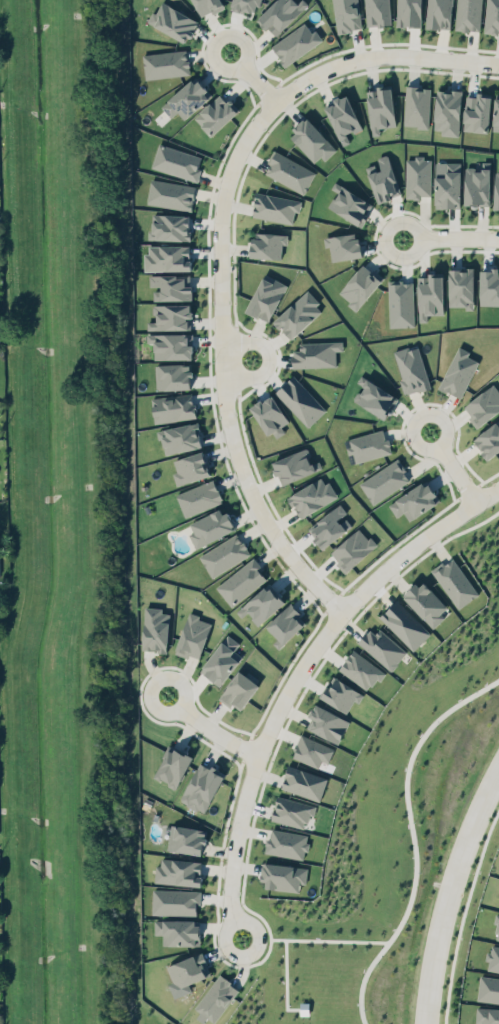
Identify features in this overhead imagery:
building: (242, 3)
building: (207, 4)
building: (374, 11)
building: (278, 12)
building: (408, 12)
building: (466, 13)
building: (439, 14)
building: (346, 15)
building: (491, 16)
building: (173, 21)
building: (295, 41)
road: (381, 59)
building: (165, 64)
road: (250, 74)
building: (185, 96)
building: (415, 104)
building: (380, 108)
building: (447, 111)
building: (477, 112)
building: (342, 113)
building: (496, 113)
building: (216, 114)
building: (310, 137)
building: (177, 161)
building: (288, 171)
building: (418, 177)
building: (383, 178)
building: (447, 184)
building: (475, 184)
building: (496, 187)
building: (171, 194)
building: (348, 199)
building: (273, 205)
building: (168, 223)
road: (448, 235)
building: (342, 242)
building: (267, 244)
building: (167, 257)
building: (359, 282)
building: (169, 283)
building: (461, 287)
building: (489, 287)
building: (428, 293)
building: (266, 297)
building: (401, 303)
building: (298, 314)
building: (171, 317)
building: (171, 345)
building: (316, 354)
road: (236, 357)
road: (222, 365)
building: (409, 367)
building: (456, 369)
building: (170, 372)
building: (375, 395)
building: (298, 398)
building: (484, 405)
building: (173, 407)
building: (270, 416)
building: (487, 436)
building: (180, 437)
building: (368, 445)
building: (189, 464)
road: (450, 465)
building: (295, 466)
building: (385, 481)
building: (309, 494)
building: (199, 497)
building: (415, 501)
building: (330, 526)
building: (210, 527)
building: (352, 547)
building: (224, 553)
building: (0, 572)
building: (240, 578)
building: (455, 582)
building: (426, 602)
building: (262, 604)
building: (285, 618)
building: (405, 624)
building: (155, 629)
building: (191, 632)
building: (382, 647)
building: (221, 656)
building: (358, 667)
road: (297, 672)
building: (239, 689)
building: (340, 692)
building: (327, 723)
road: (206, 728)
building: (312, 751)
building: (173, 764)
road: (497, 769)
building: (304, 782)
building: (202, 786)
building: (292, 811)
building: (186, 839)
building: (284, 843)
road: (398, 844)
building: (178, 869)
building: (283, 876)
road: (448, 889)
building: (175, 901)
road: (461, 912)
building: (496, 929)
building: (178, 931)
building: (493, 958)
building: (186, 967)
building: (488, 989)
building: (216, 998)
building: (487, 1016)

